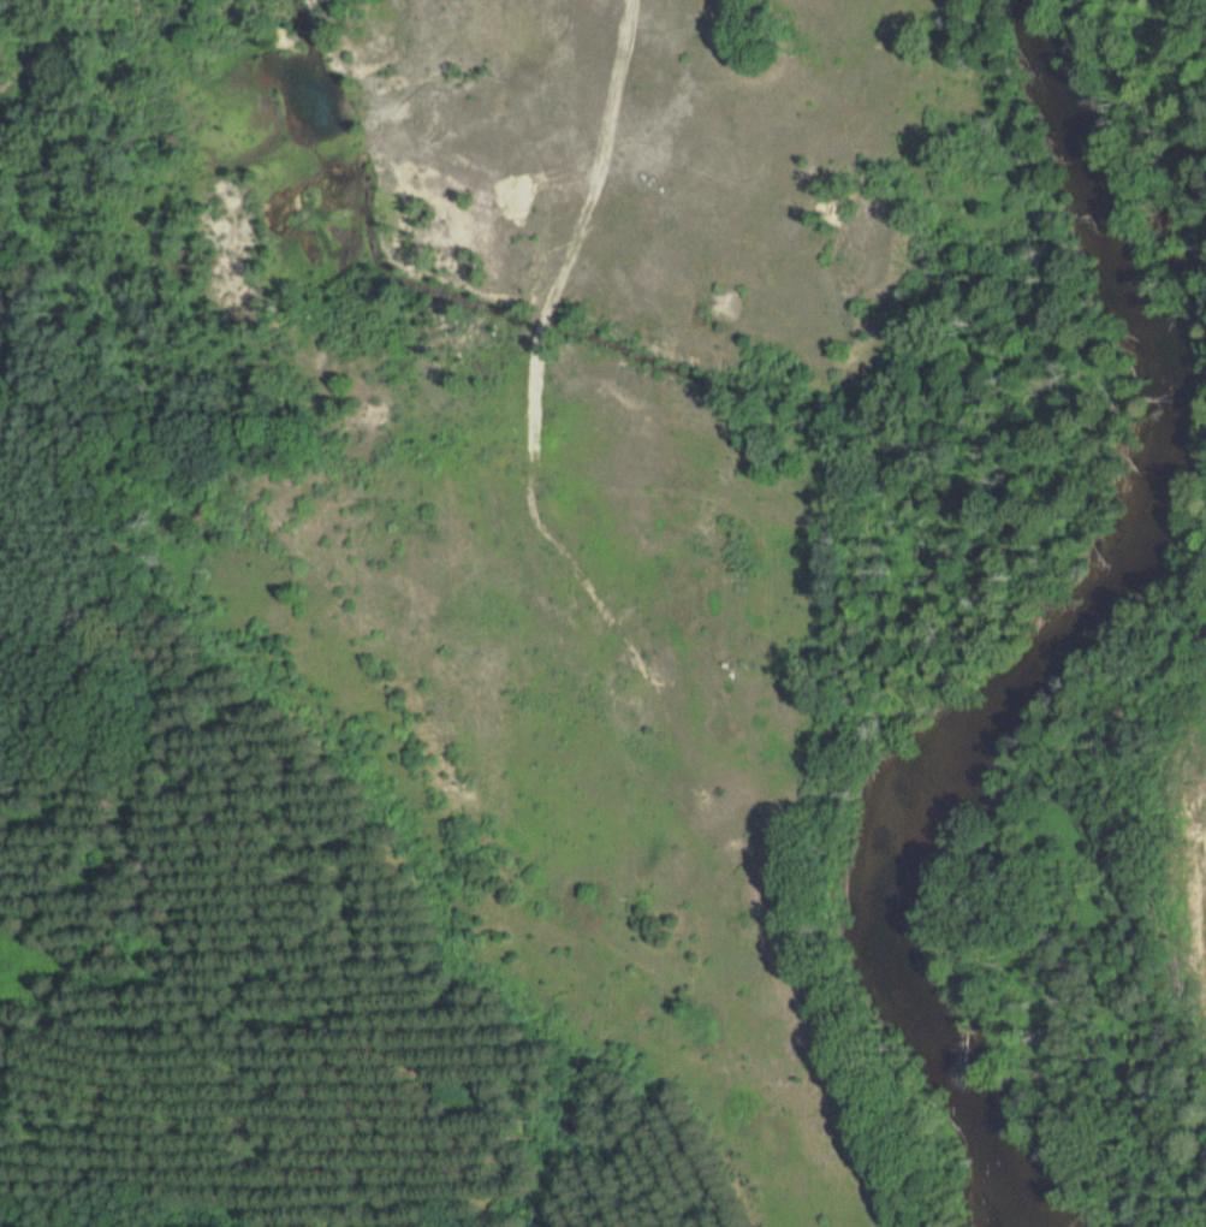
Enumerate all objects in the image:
river: (1068, 640)
quarry: (1189, 864)

